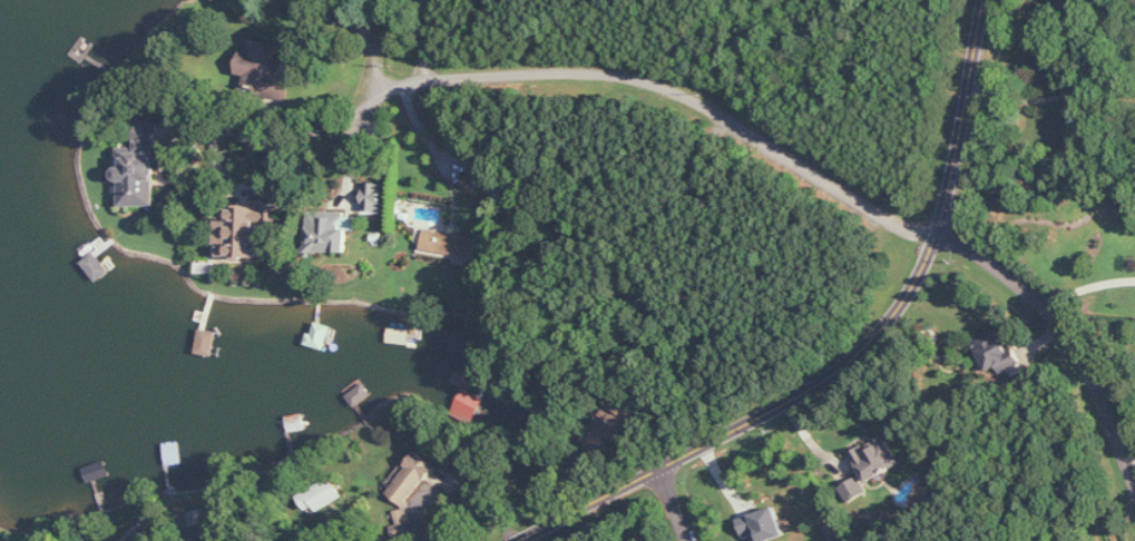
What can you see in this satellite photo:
road: (422, 39)
building: (258, 67)
road: (593, 72)
road: (1056, 96)
building: (140, 169)
building: (374, 196)
building: (246, 228)
building: (331, 230)
building: (451, 244)
road: (1086, 287)
road: (906, 296)
road: (1065, 334)
building: (996, 354)
building: (360, 395)
building: (467, 405)
building: (875, 459)
building: (412, 479)
road: (458, 486)
building: (854, 489)
building: (321, 495)
road: (587, 505)
road: (672, 505)
building: (763, 525)
building: (139, 537)
road: (232, 540)

